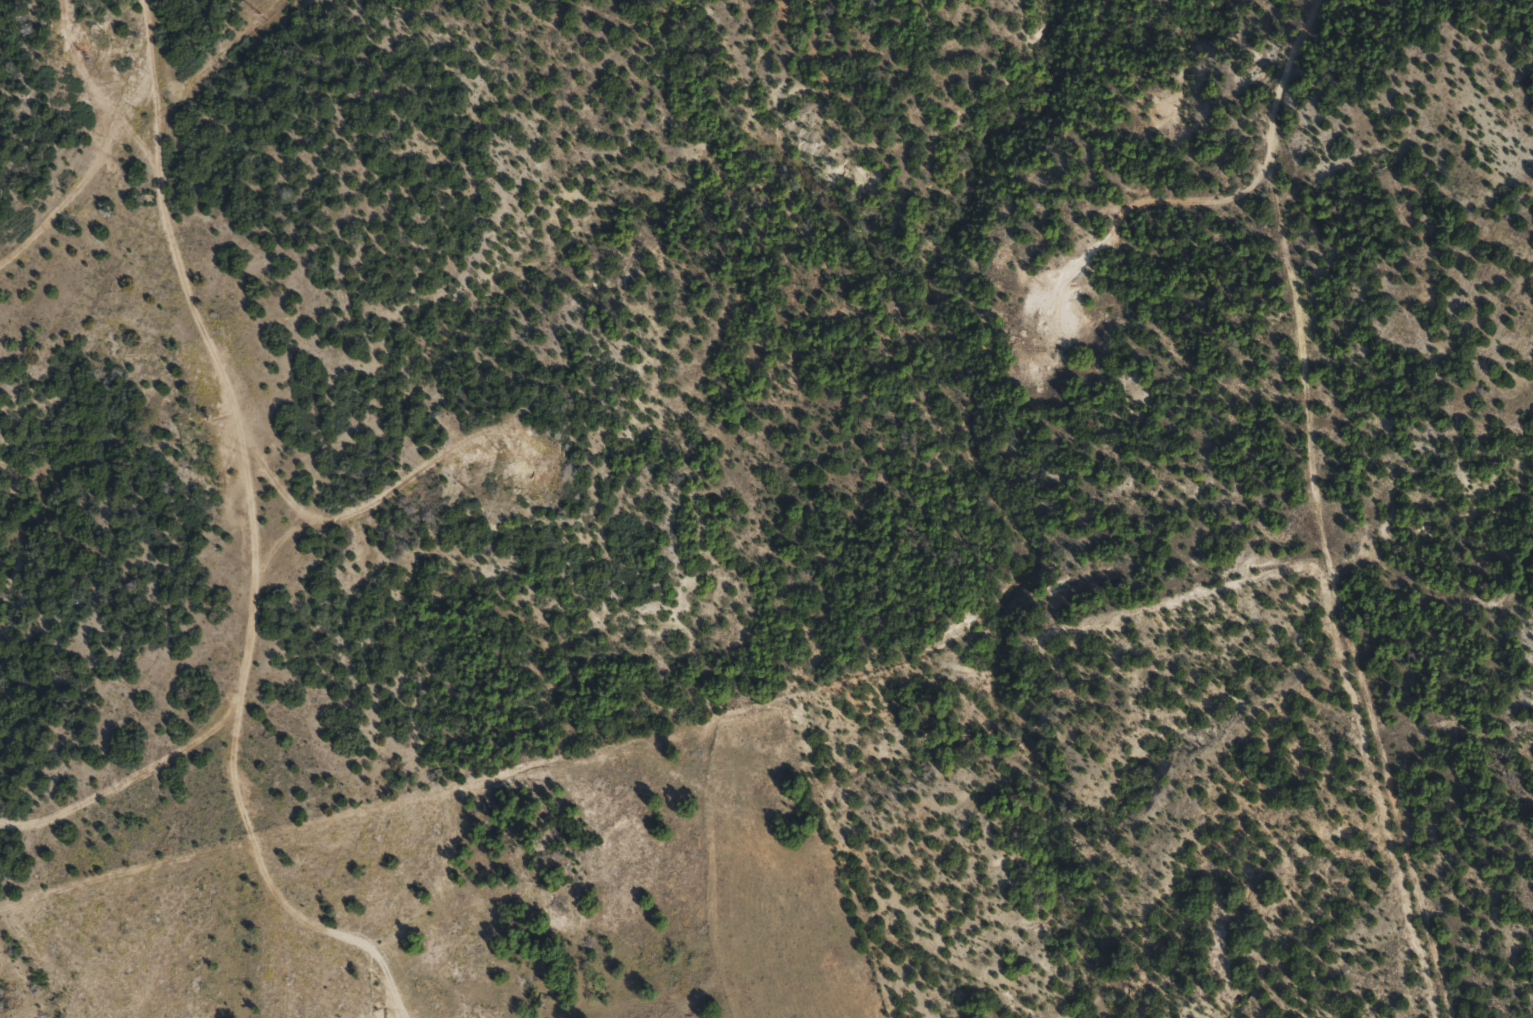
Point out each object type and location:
power tower: (264, 17)

